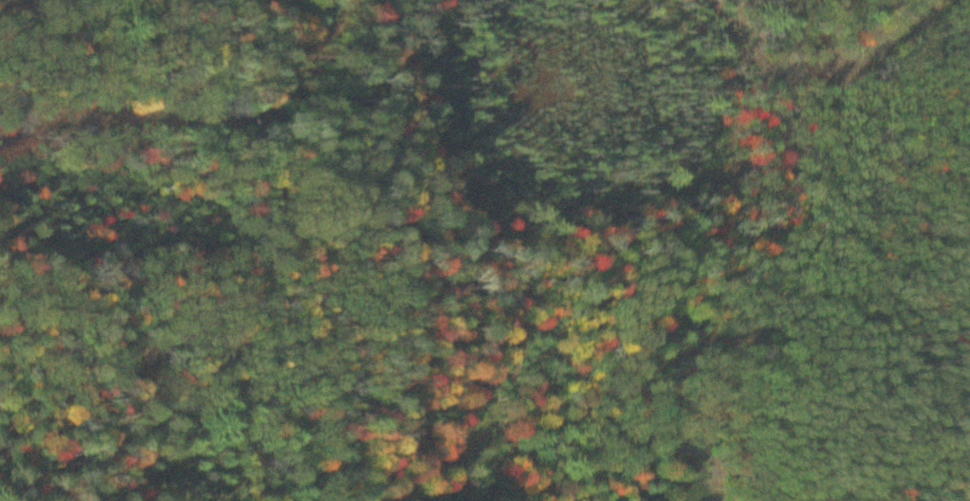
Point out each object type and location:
road: (930, 62)
road: (968, 124)

